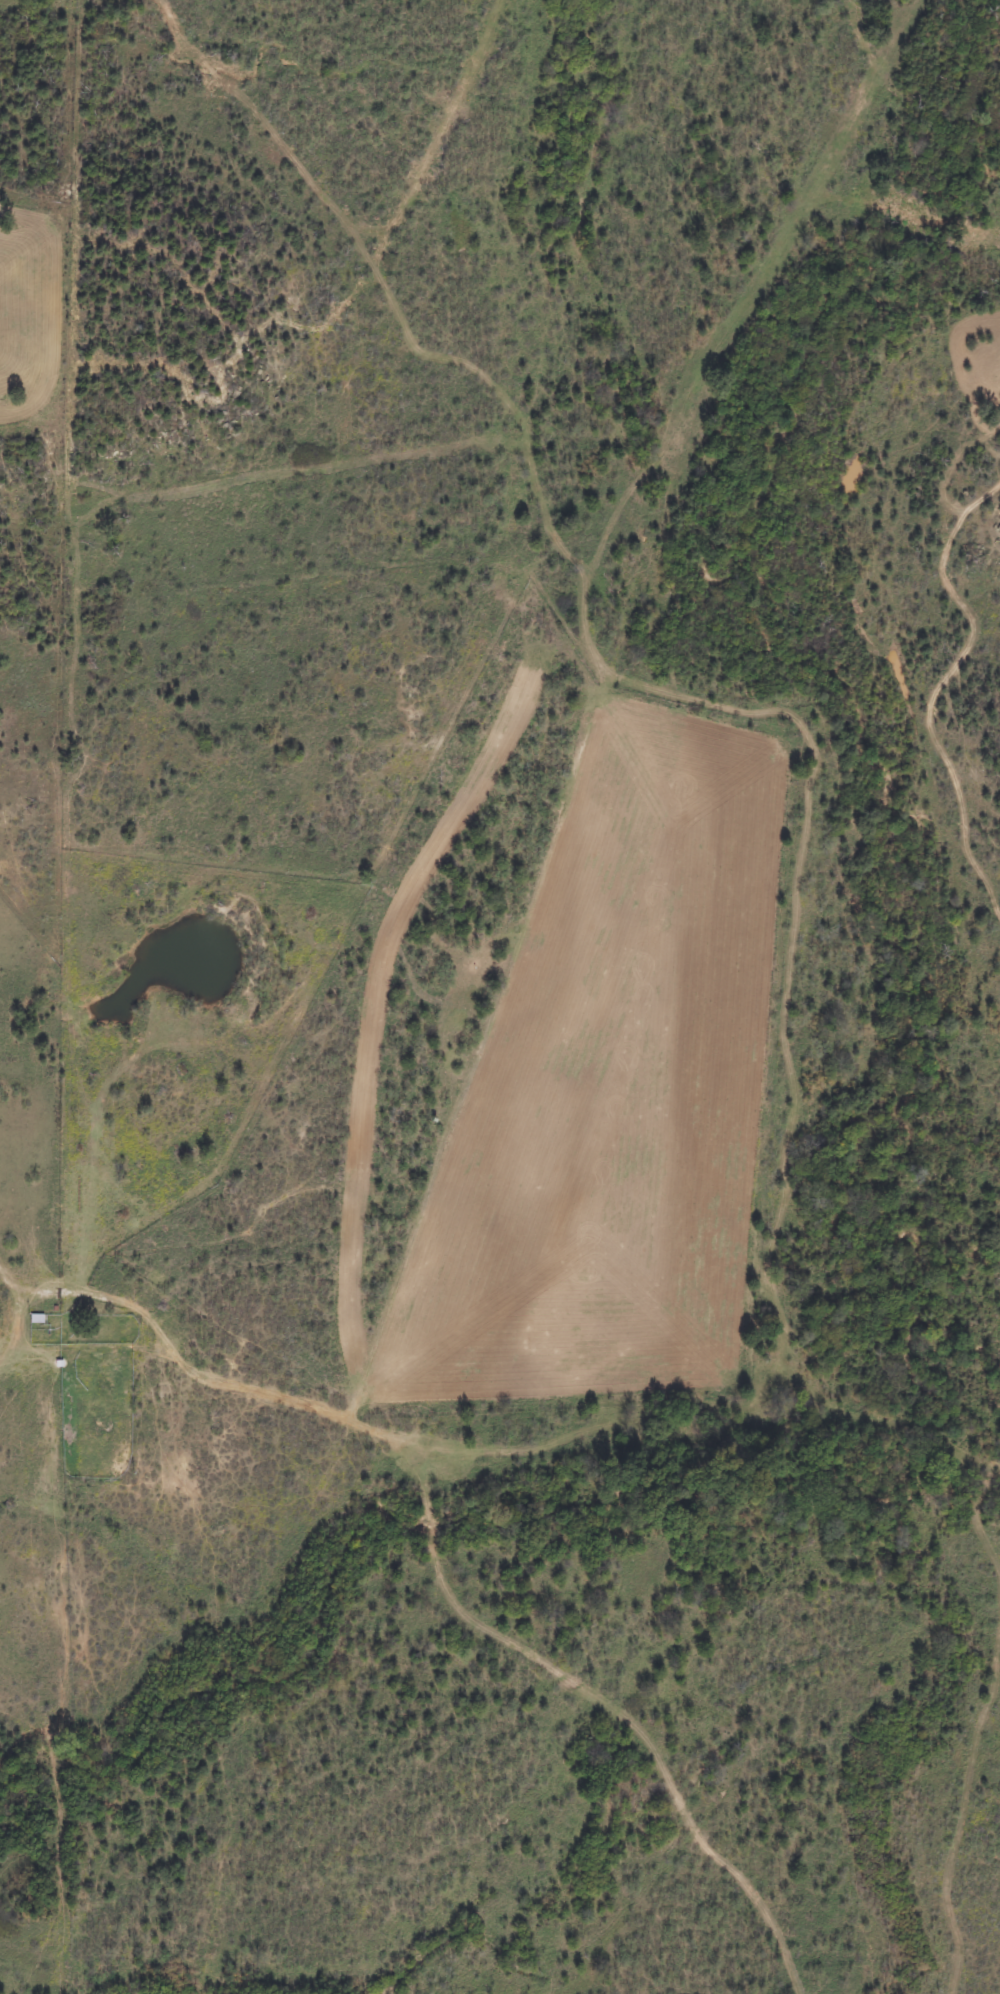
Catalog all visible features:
road: (41, 1350)

